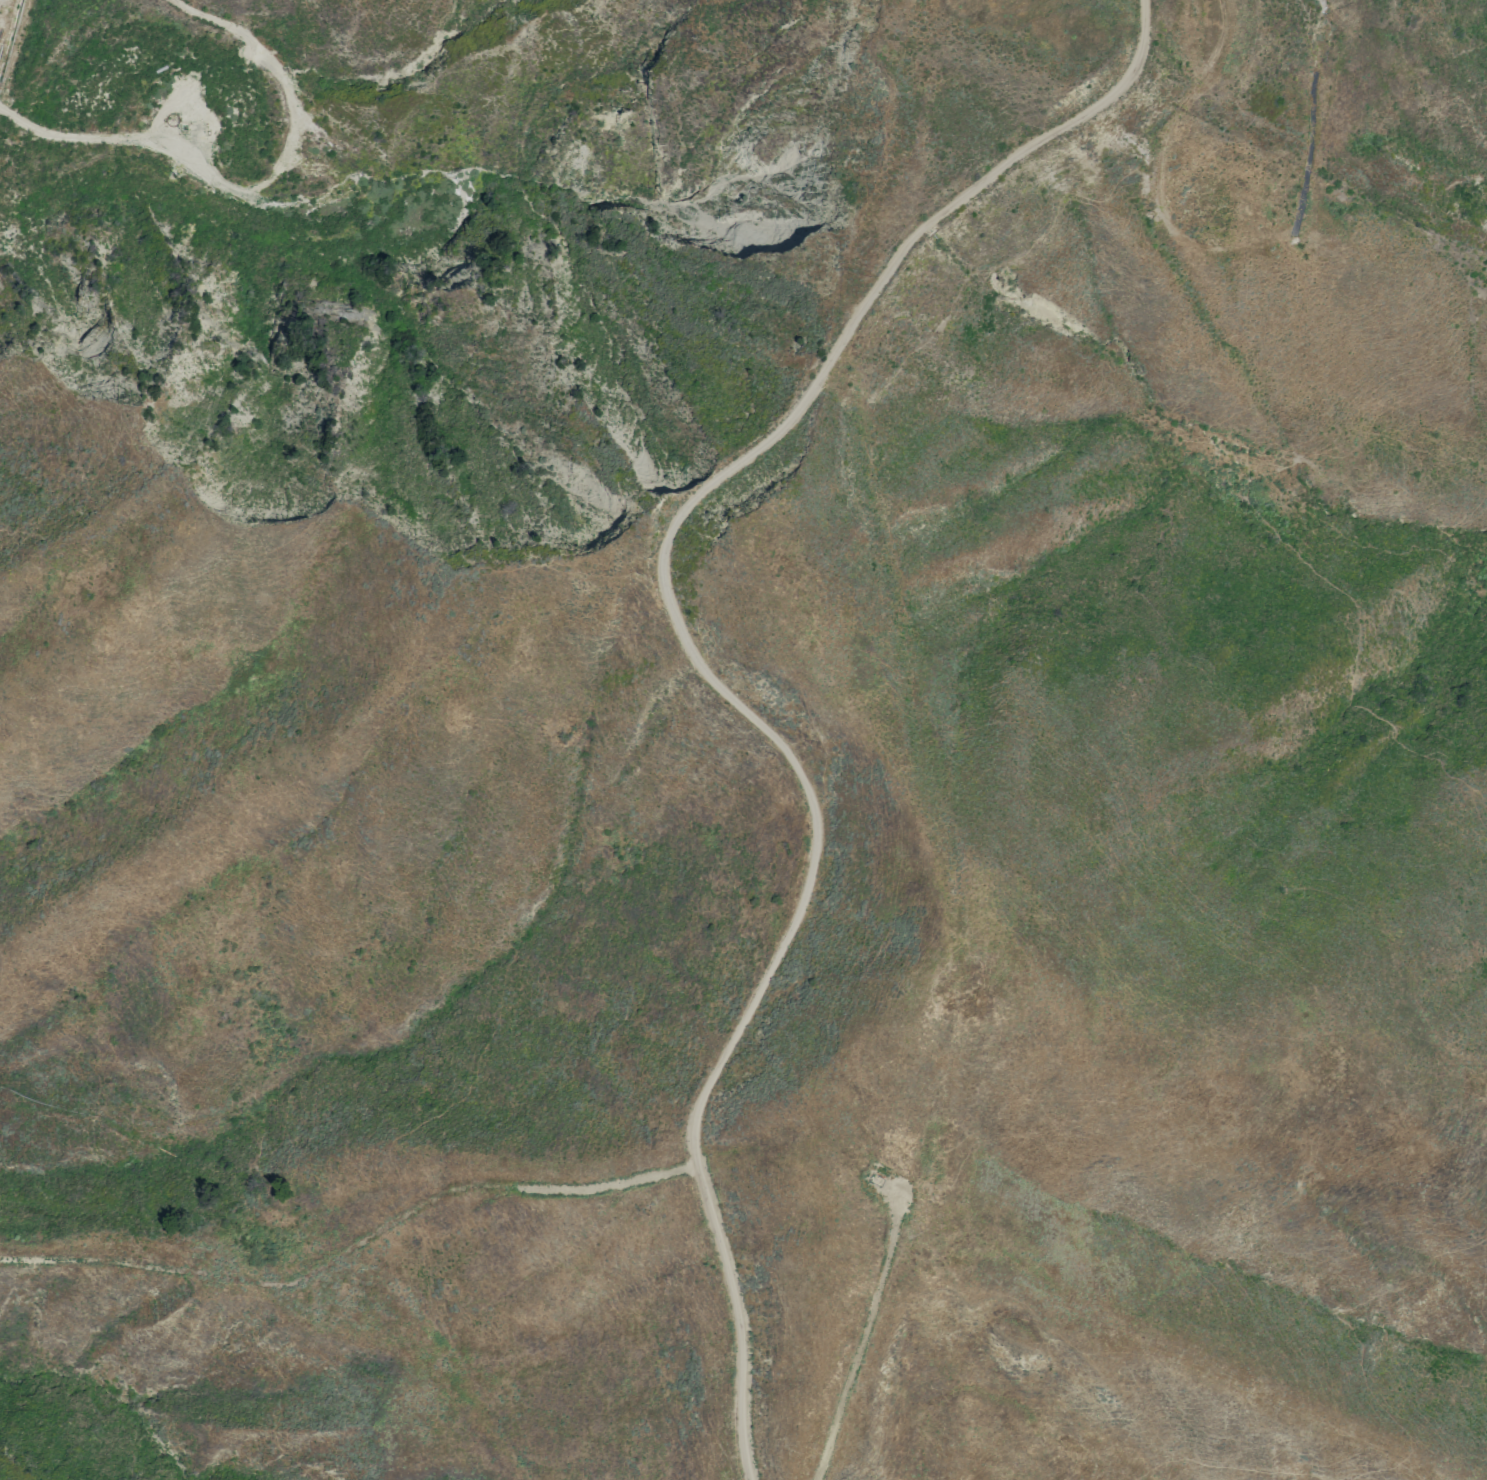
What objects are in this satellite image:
road: (11, 47)
road: (306, 207)
road: (705, 671)

